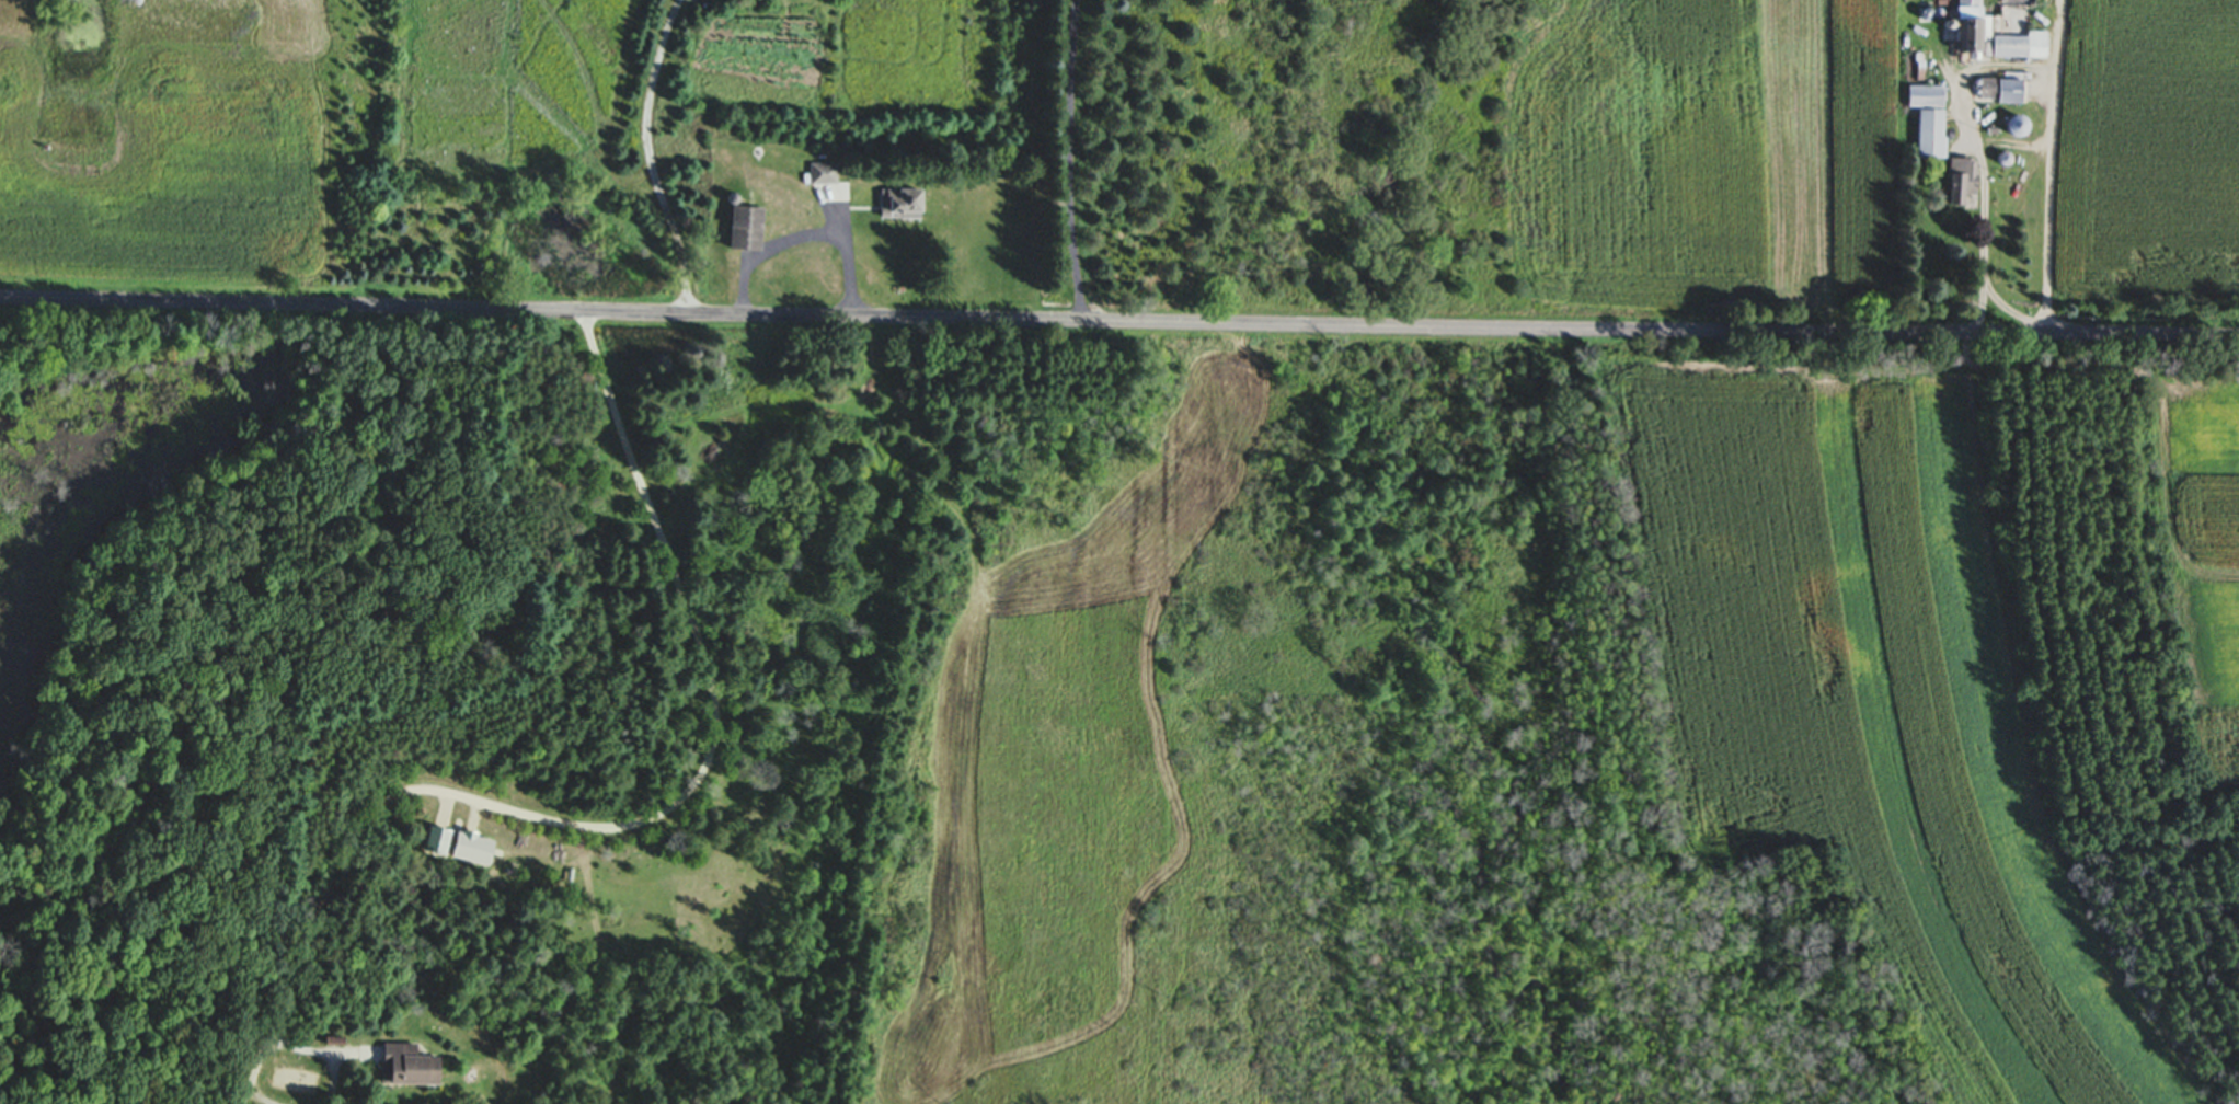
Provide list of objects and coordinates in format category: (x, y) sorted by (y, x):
building: (1966, 25)
building: (2018, 45)
building: (2001, 90)
building: (1926, 118)
building: (2012, 126)
road: (651, 158)
road: (948, 160)
road: (1067, 162)
road: (2052, 168)
building: (820, 173)
building: (1960, 180)
building: (897, 204)
building: (743, 229)
road: (1118, 324)
road: (617, 824)
building: (467, 849)
road: (322, 1051)
building: (403, 1066)
road: (261, 1095)

